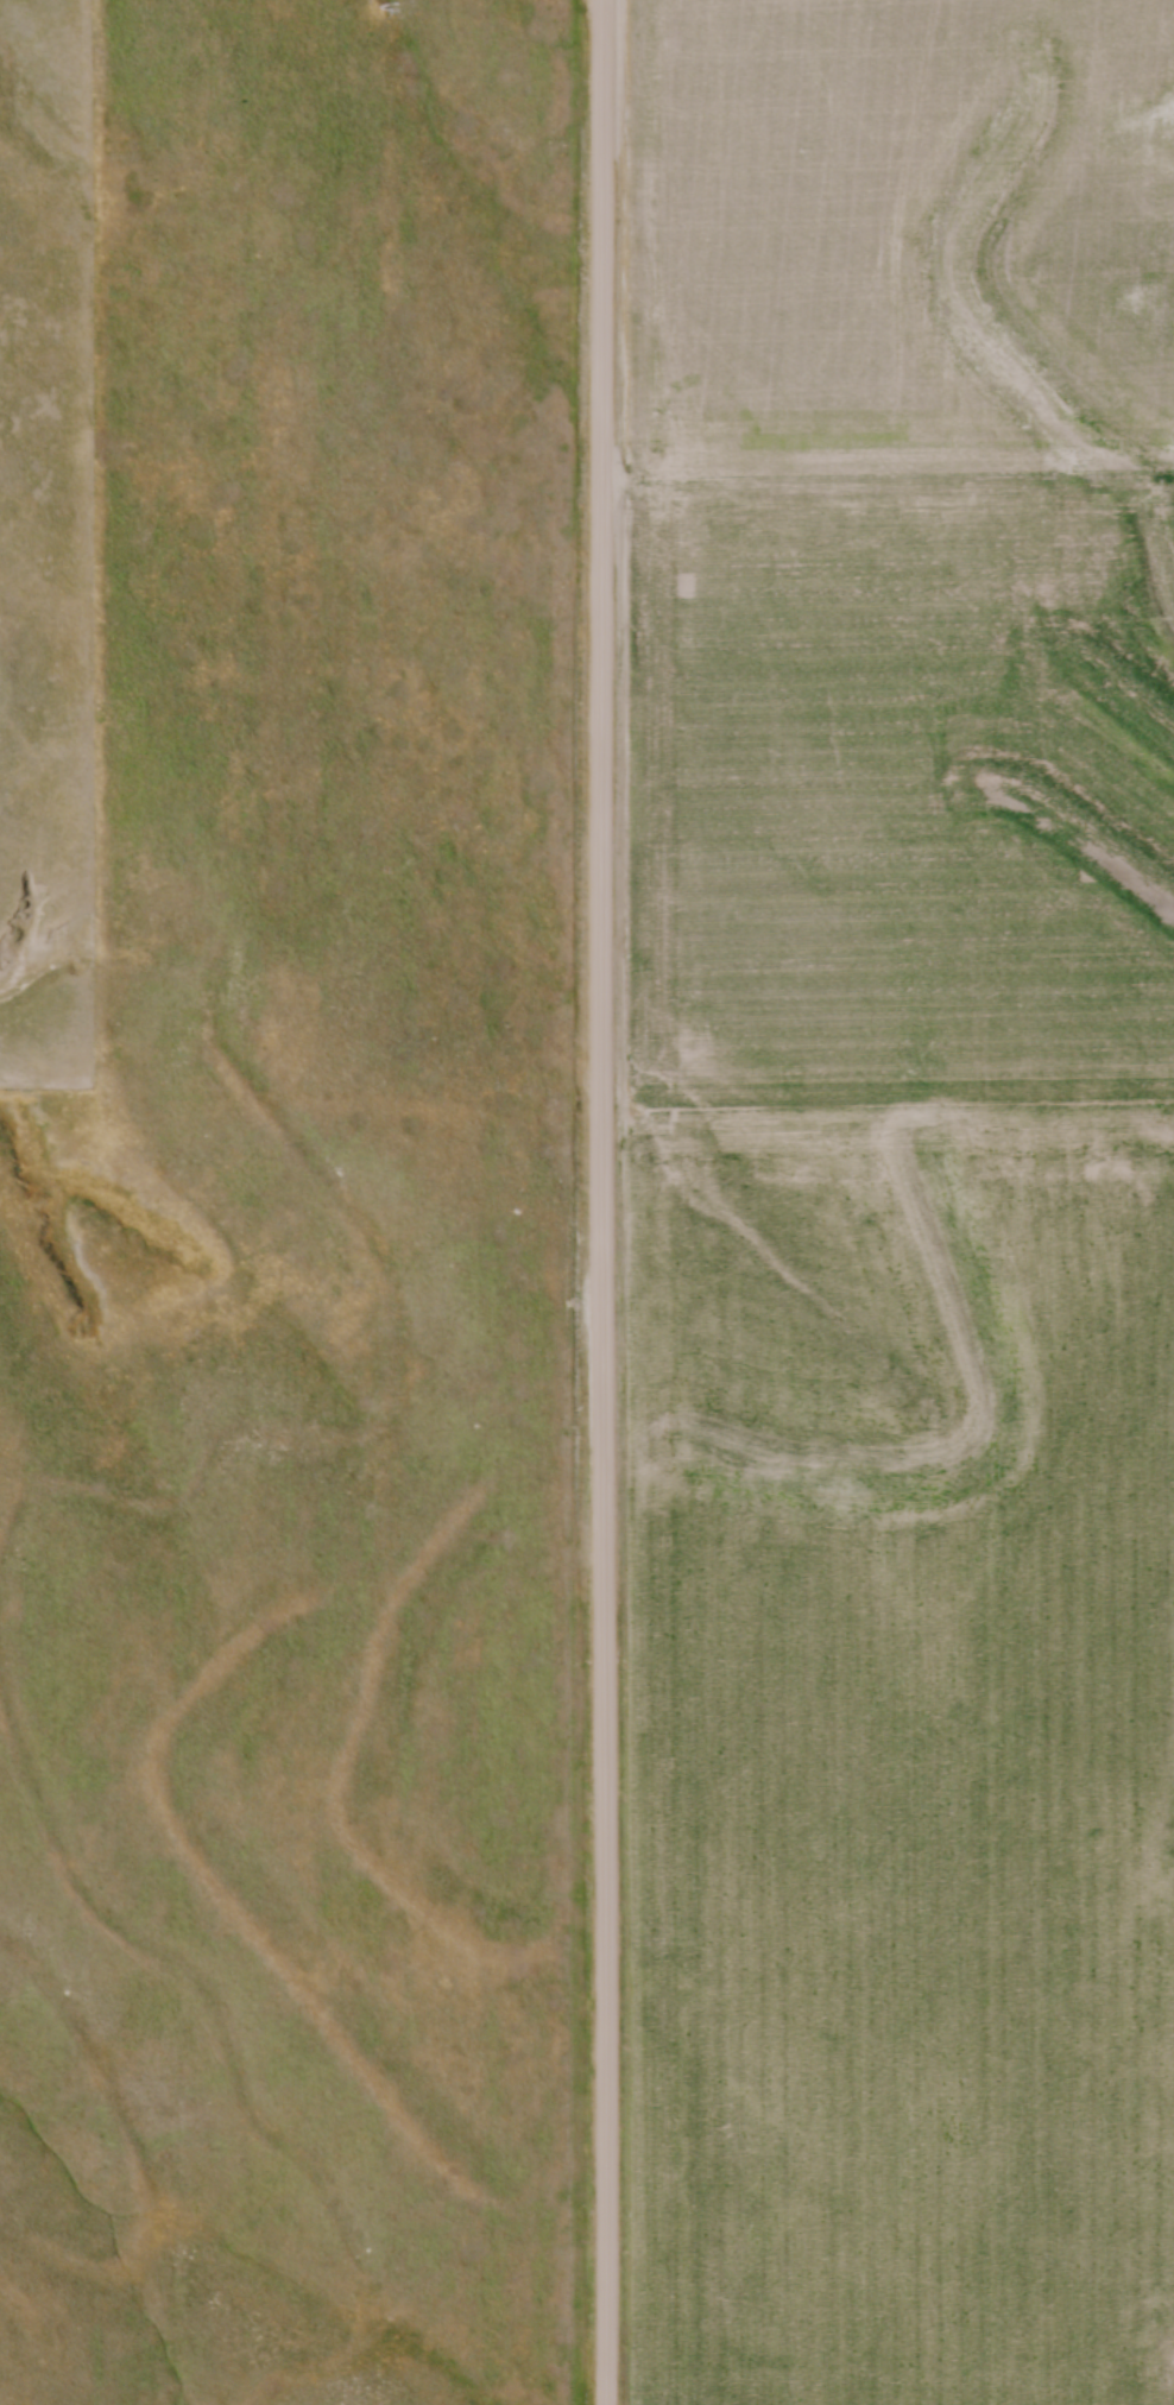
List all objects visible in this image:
road: (602, 1202)

